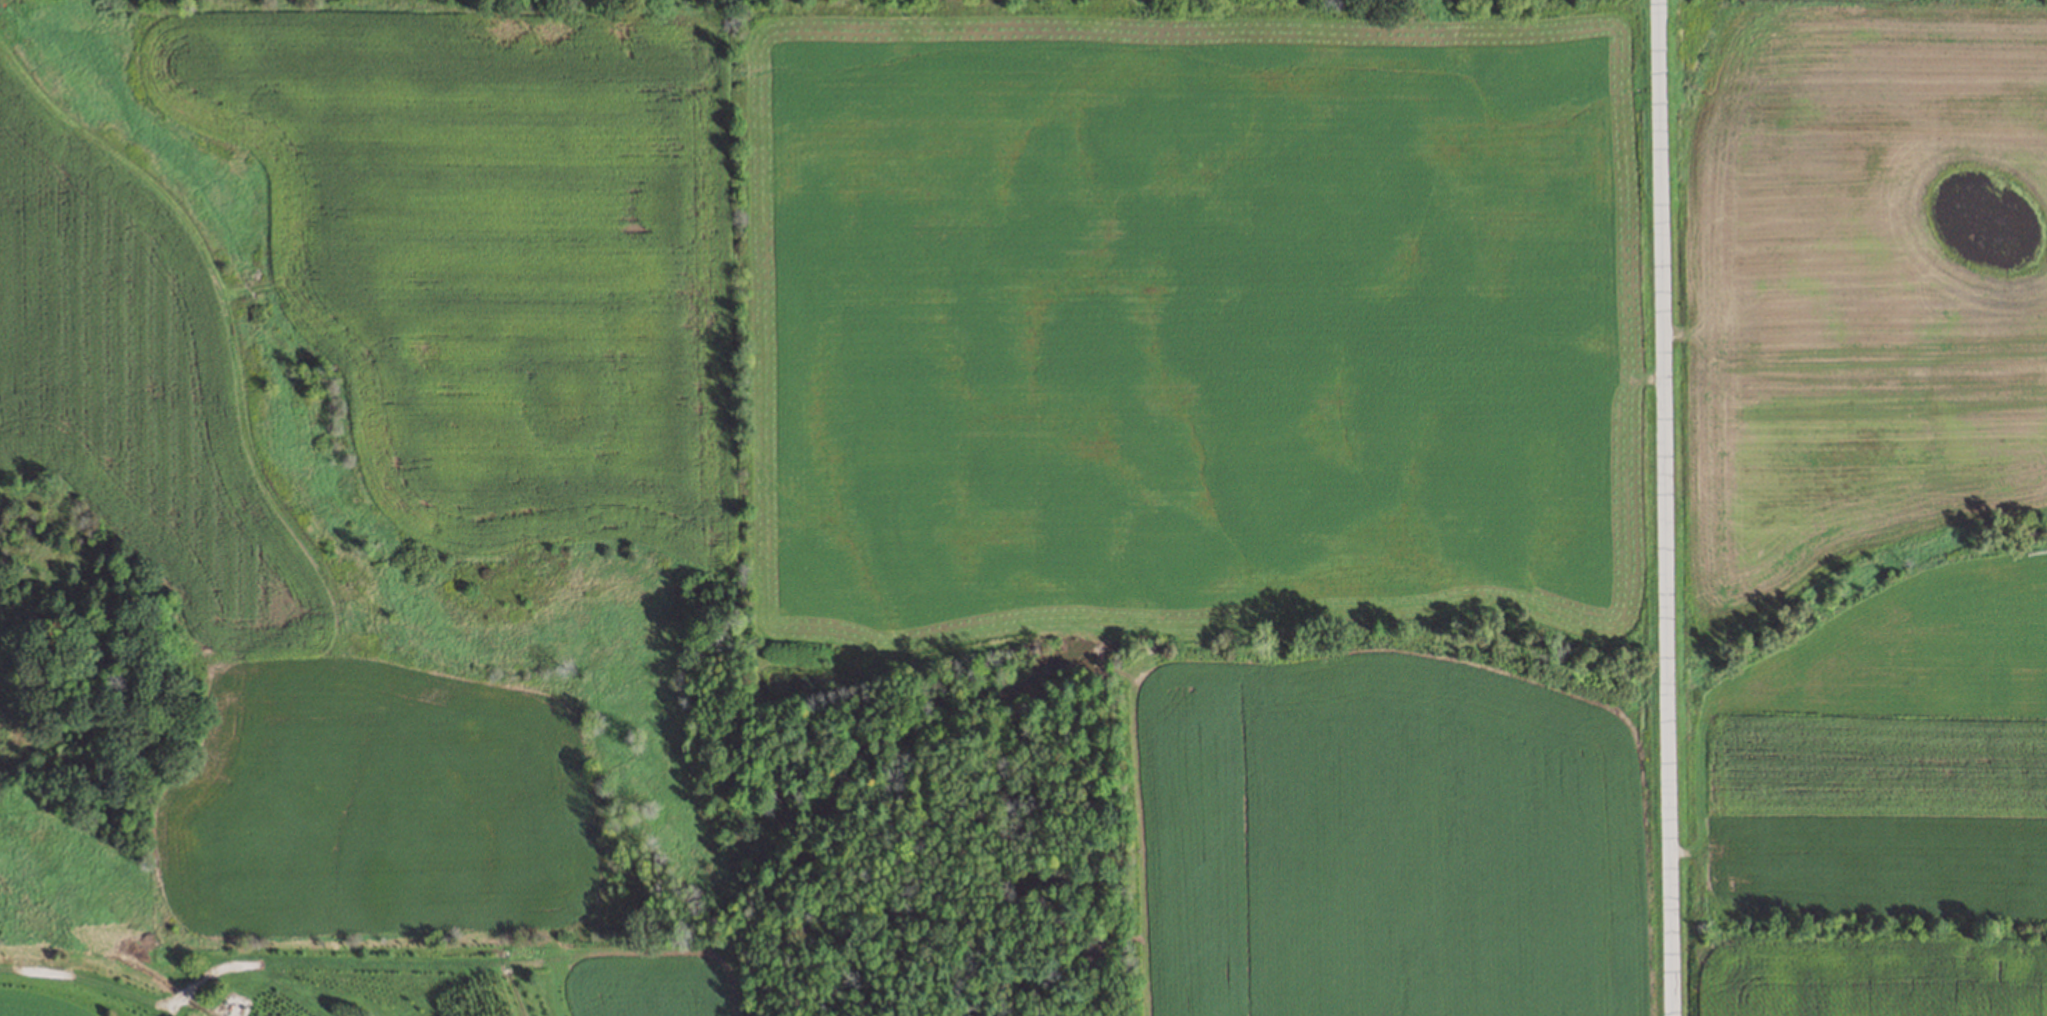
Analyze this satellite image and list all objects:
road: (1666, 507)

